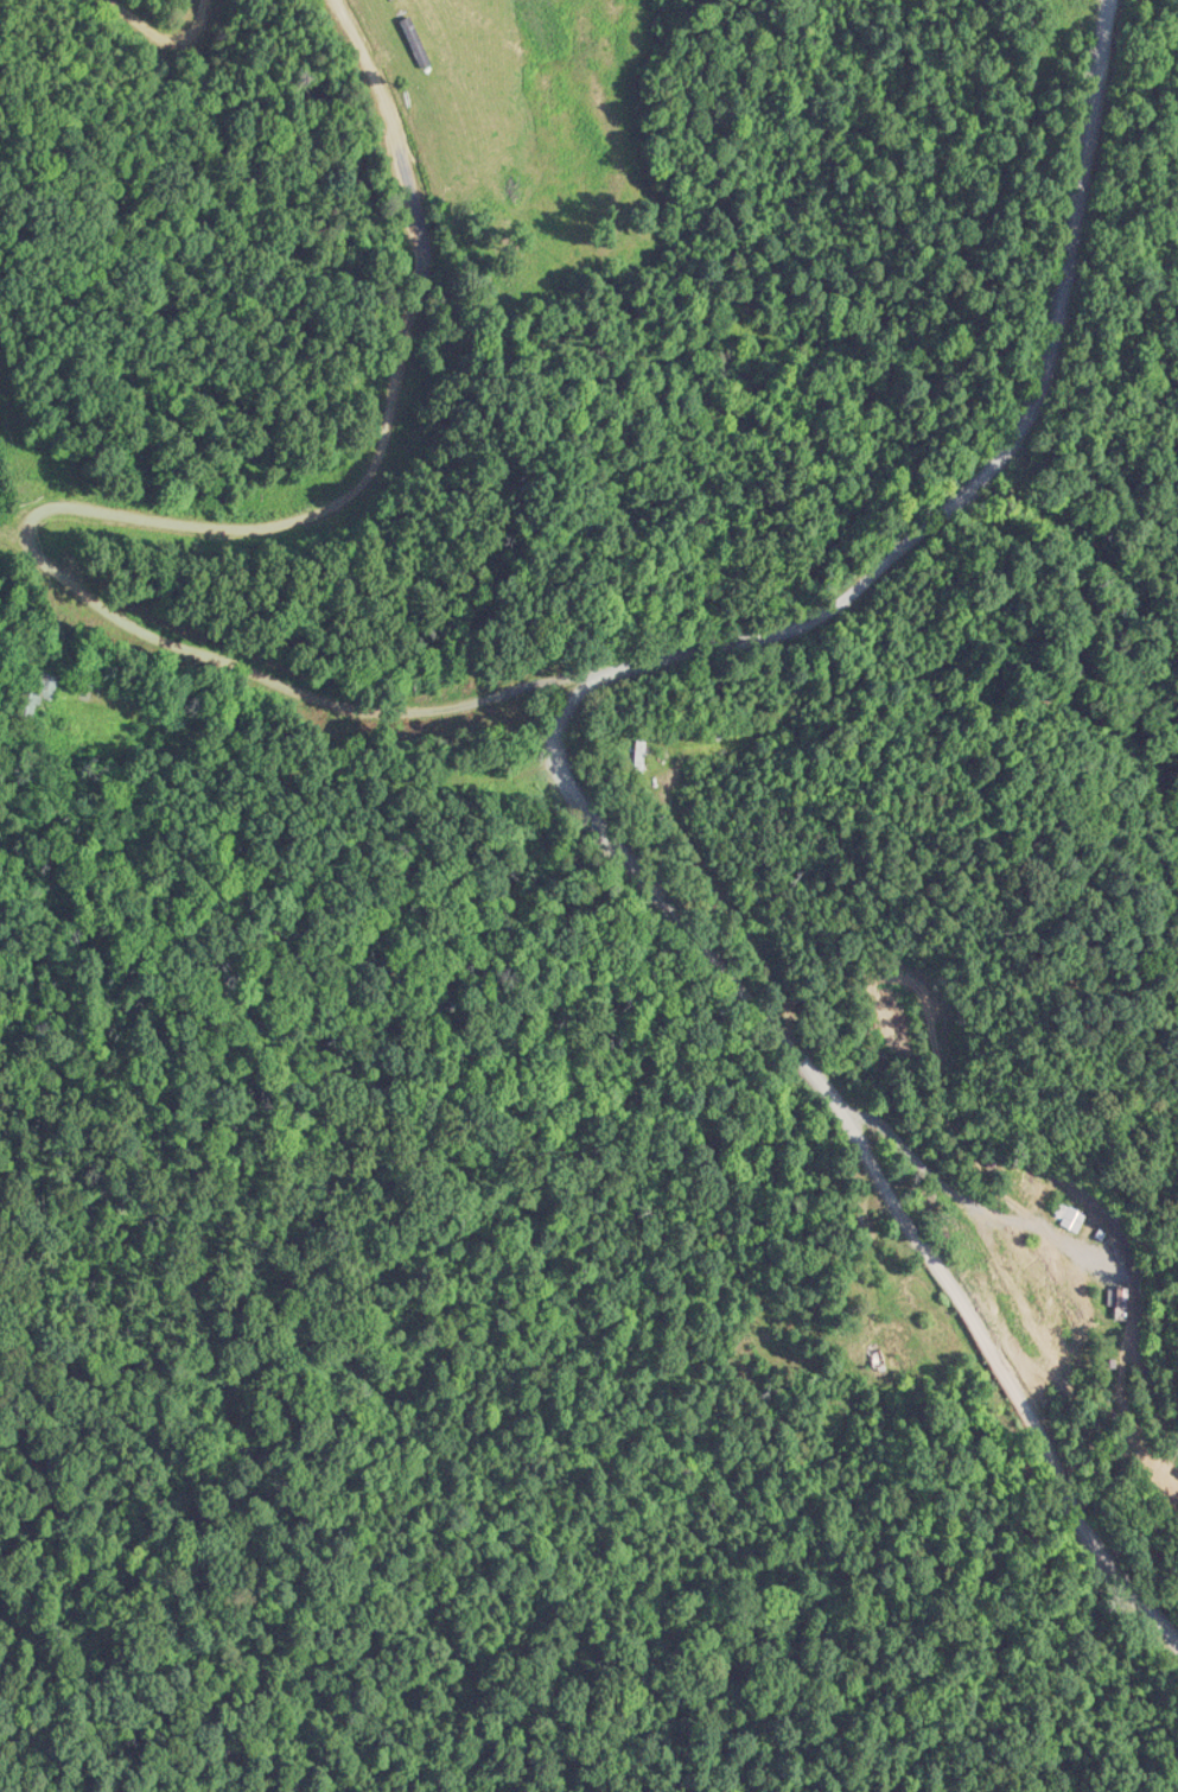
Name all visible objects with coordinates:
building: (638, 756)
road: (657, 775)
building: (1069, 1214)
building: (900, 1328)

